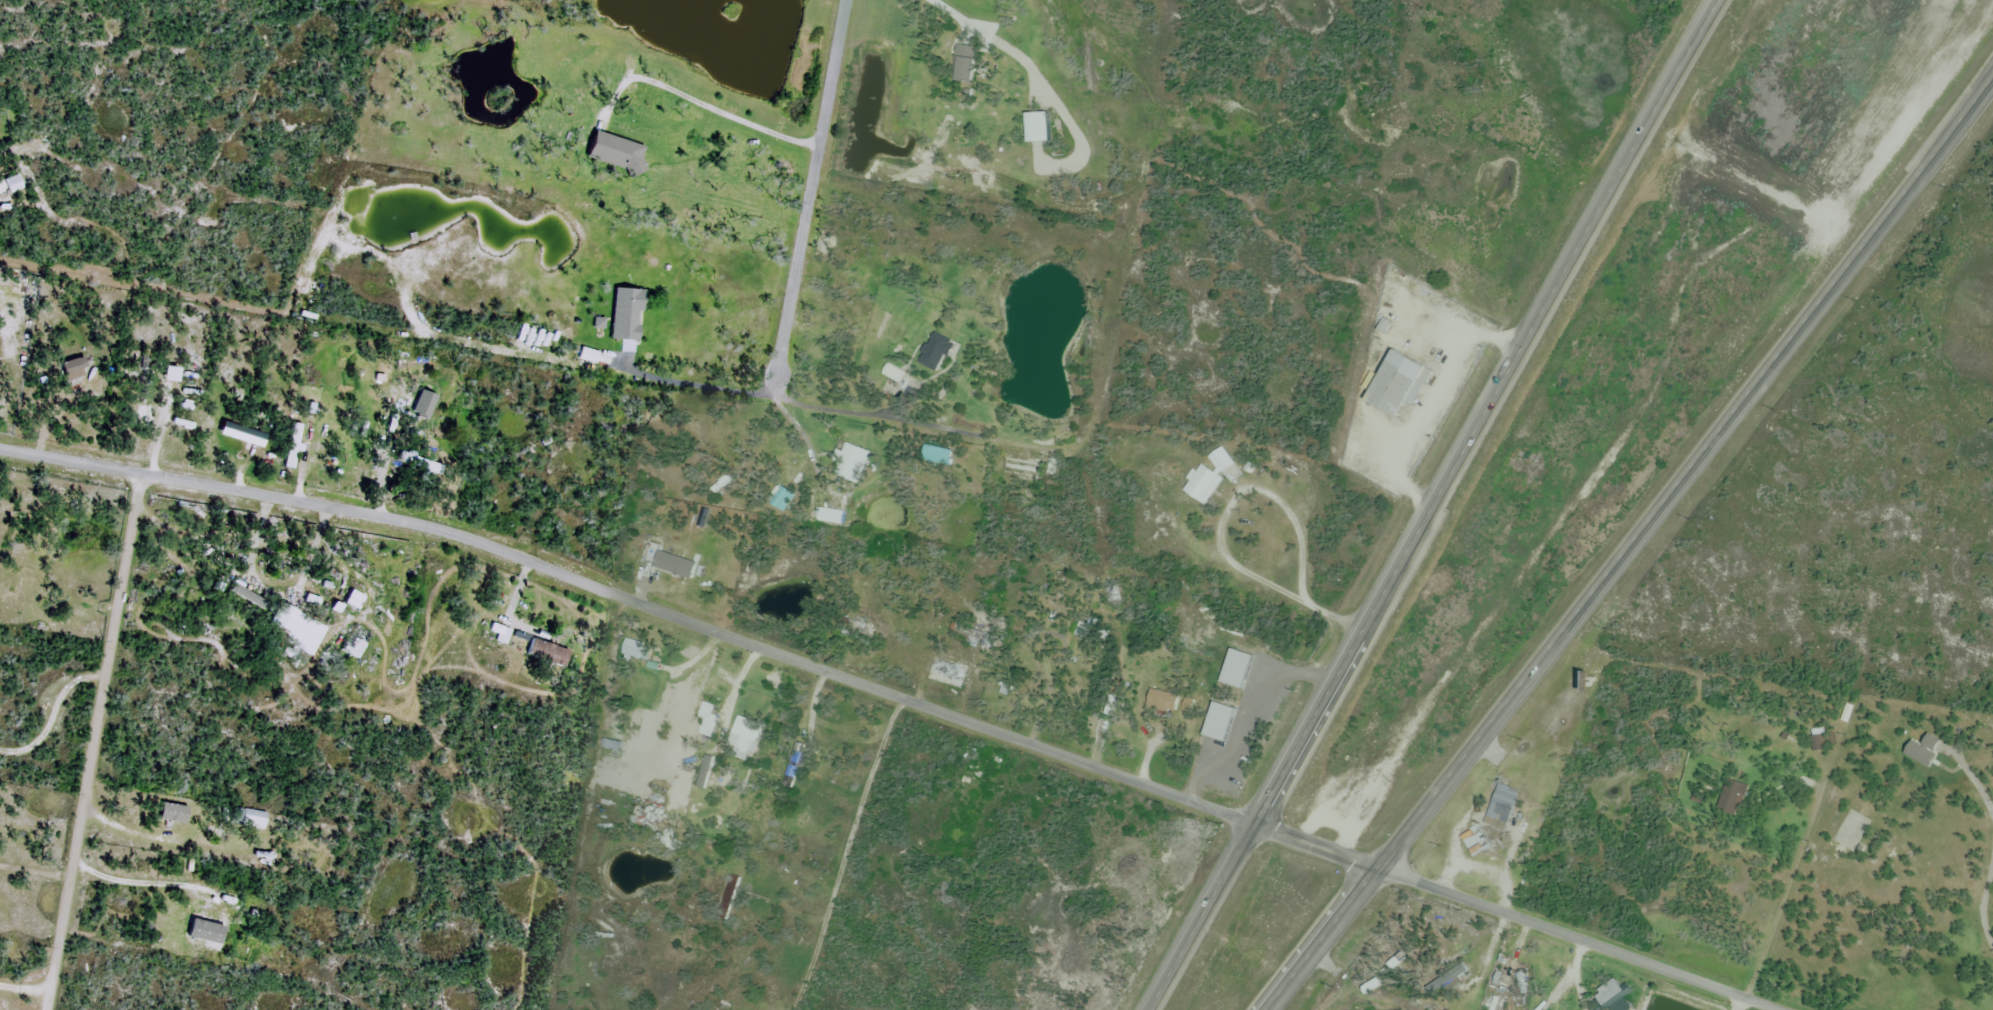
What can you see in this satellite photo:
road: (958, 16)
building: (961, 65)
road: (704, 105)
building: (616, 153)
building: (11, 184)
road: (813, 188)
building: (624, 314)
building: (934, 352)
building: (69, 369)
building: (893, 373)
building: (1394, 384)
building: (149, 392)
road: (1426, 394)
road: (864, 414)
building: (240, 434)
building: (292, 446)
building: (1220, 459)
building: (848, 460)
building: (417, 465)
building: (1018, 468)
building: (1202, 485)
road: (1431, 504)
building: (830, 516)
road: (1218, 525)
road: (1630, 541)
building: (673, 566)
building: (16, 586)
road: (697, 624)
building: (300, 629)
building: (498, 634)
building: (543, 651)
building: (632, 656)
building: (944, 673)
building: (1161, 701)
building: (705, 710)
building: (1848, 714)
building: (745, 737)
road: (94, 742)
building: (1734, 799)
building: (1501, 806)
building: (644, 816)
building: (160, 817)
building: (248, 818)
building: (1472, 841)
road: (1492, 909)
road: (1579, 976)
road: (1691, 980)
building: (1612, 992)
road: (1744, 1005)

